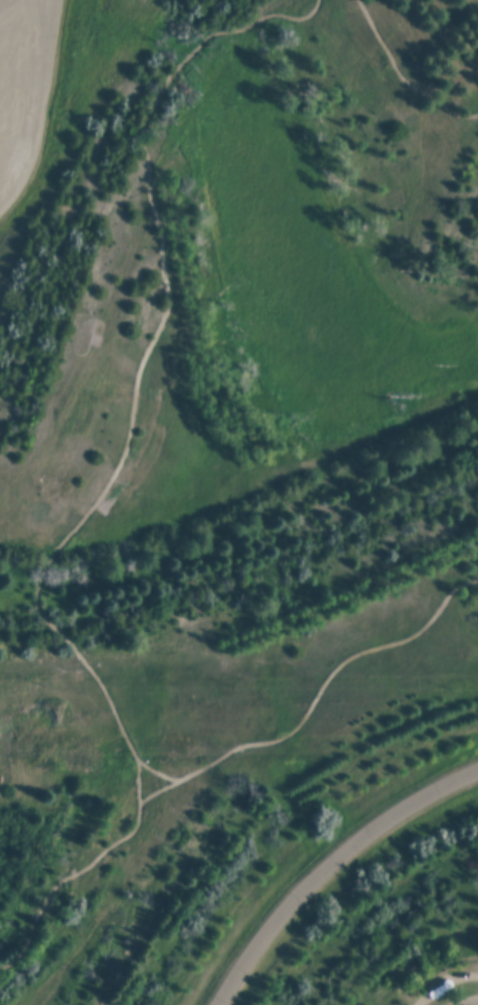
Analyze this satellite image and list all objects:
road: (24, 10)
road: (20, 75)
road: (401, 77)
parking lot: (25, 88)
road: (35, 106)
road: (15, 150)
road: (144, 370)
park: (239, 502)
road: (224, 757)
road: (156, 779)
road: (329, 865)
road: (475, 1004)

